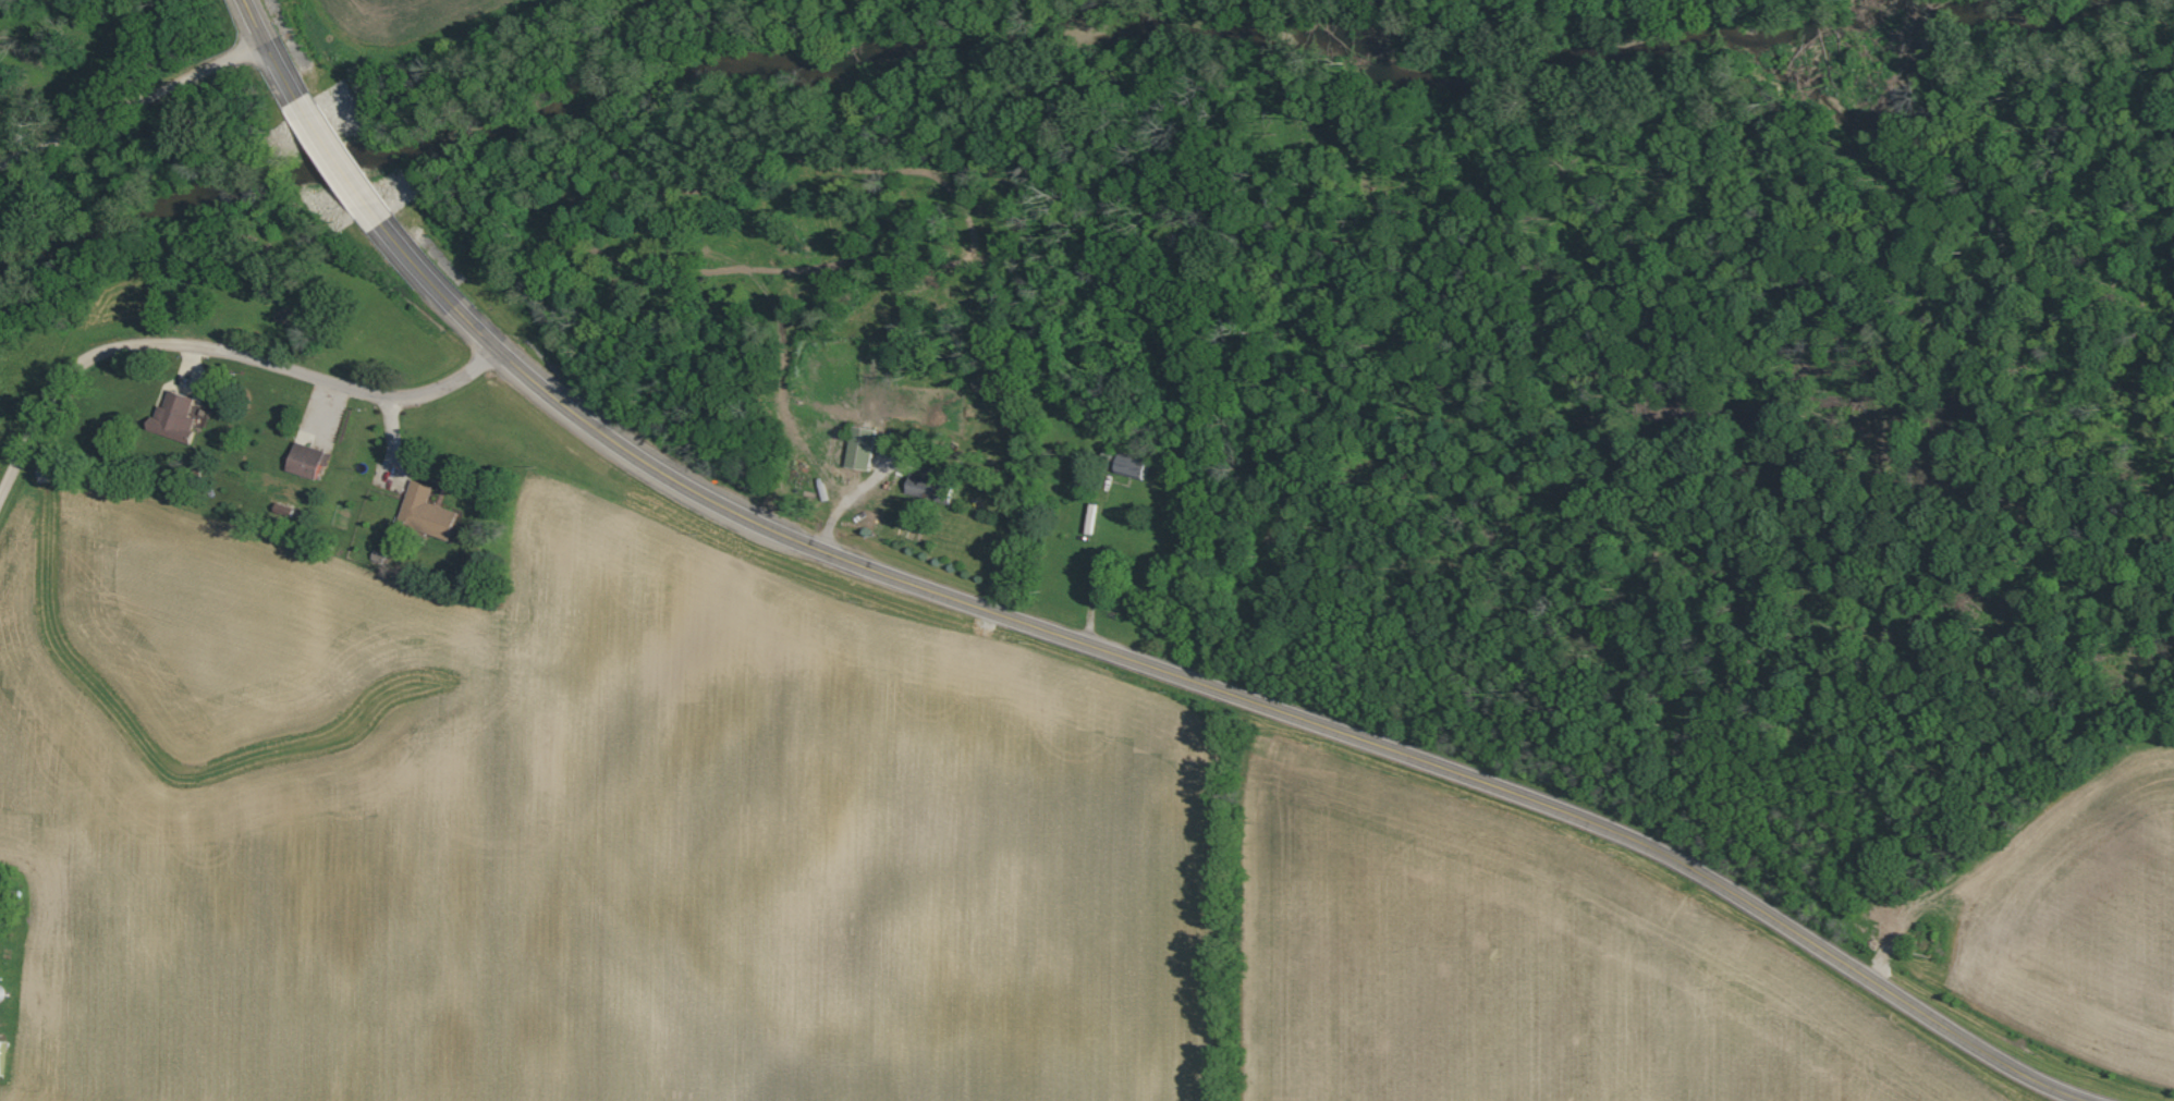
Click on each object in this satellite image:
road: (134, 105)
road: (218, 350)
building: (178, 417)
building: (864, 449)
building: (312, 462)
building: (1134, 467)
building: (932, 489)
road: (858, 490)
building: (429, 514)
road: (1099, 640)

